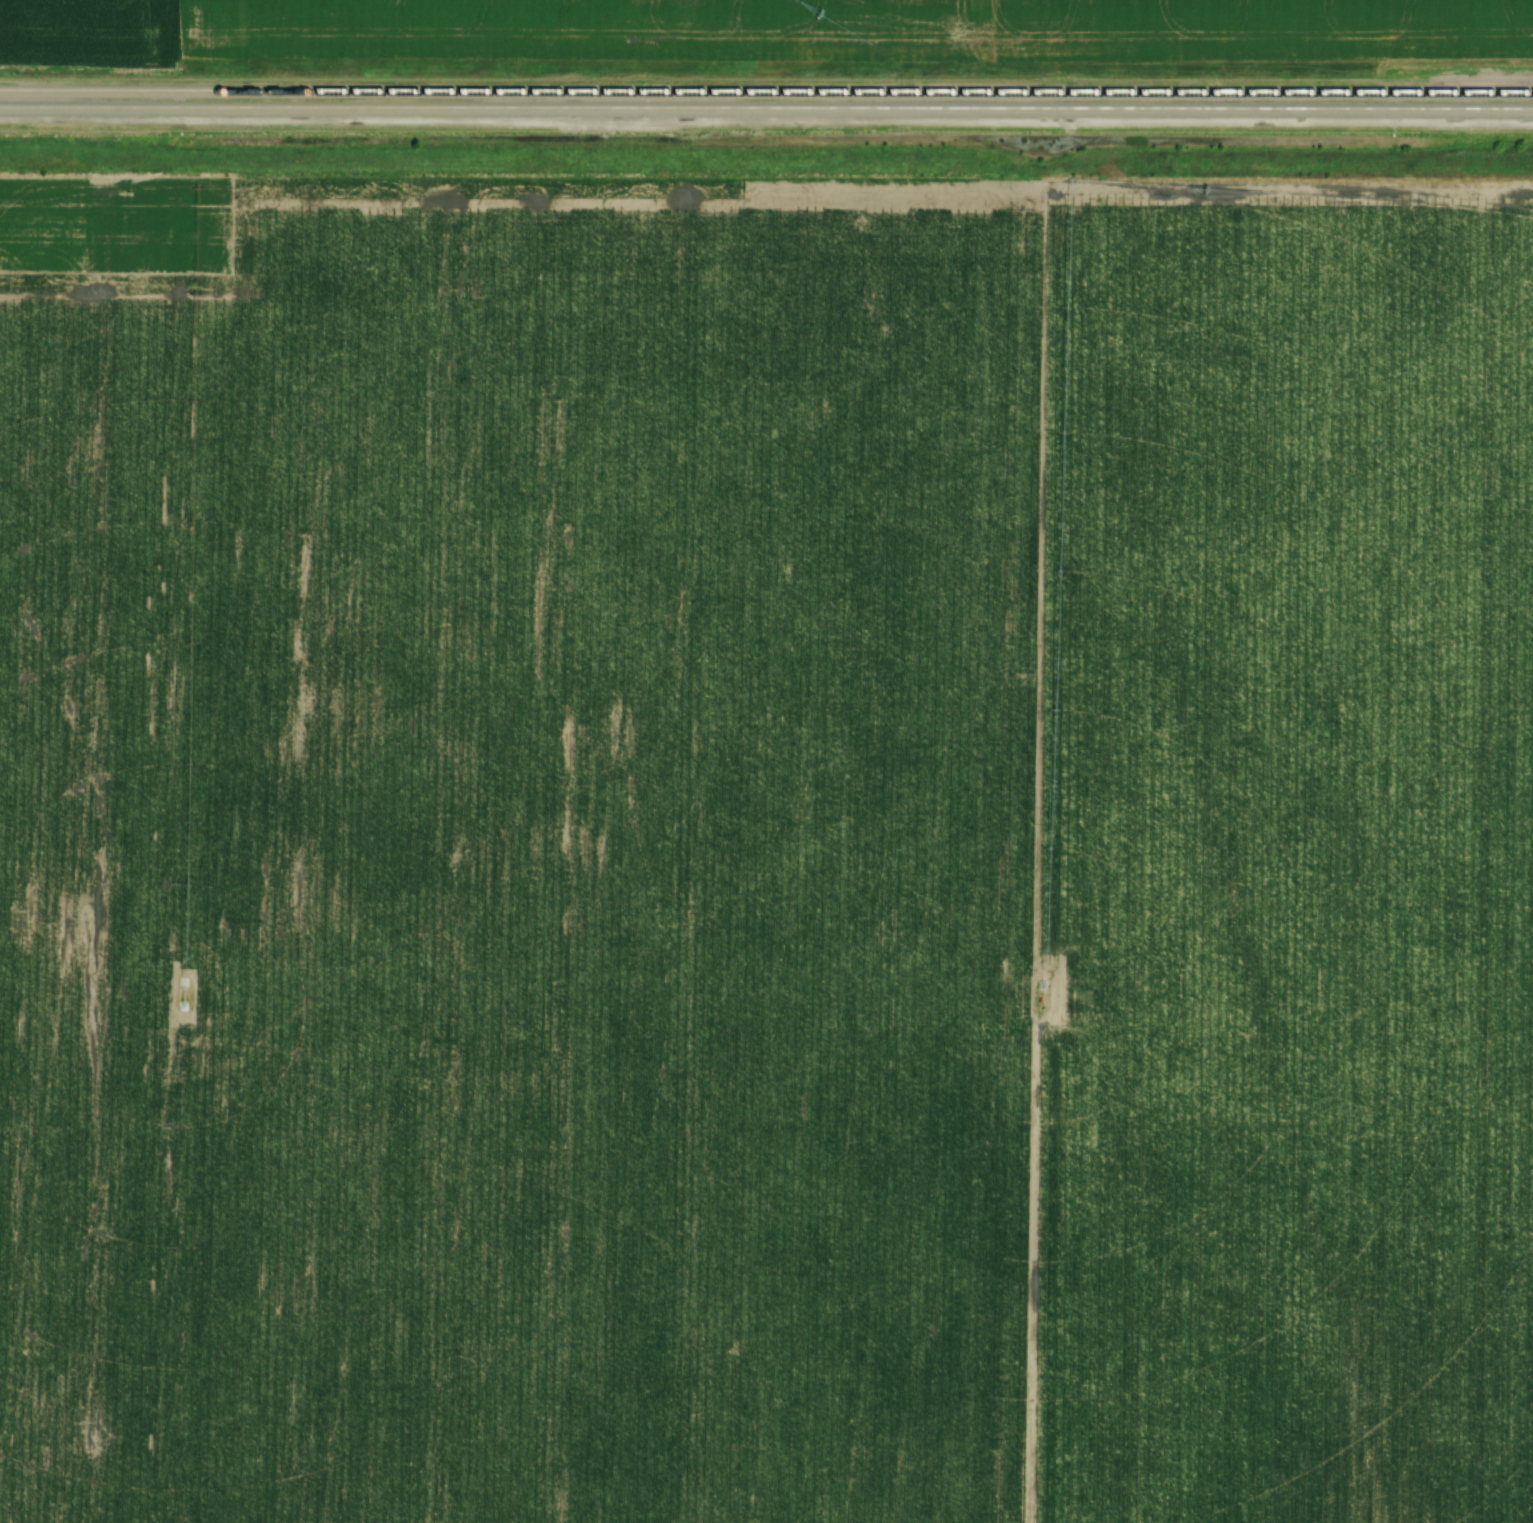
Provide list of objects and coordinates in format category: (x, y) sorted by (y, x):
railway: (766, 89)
railway: (766, 111)

